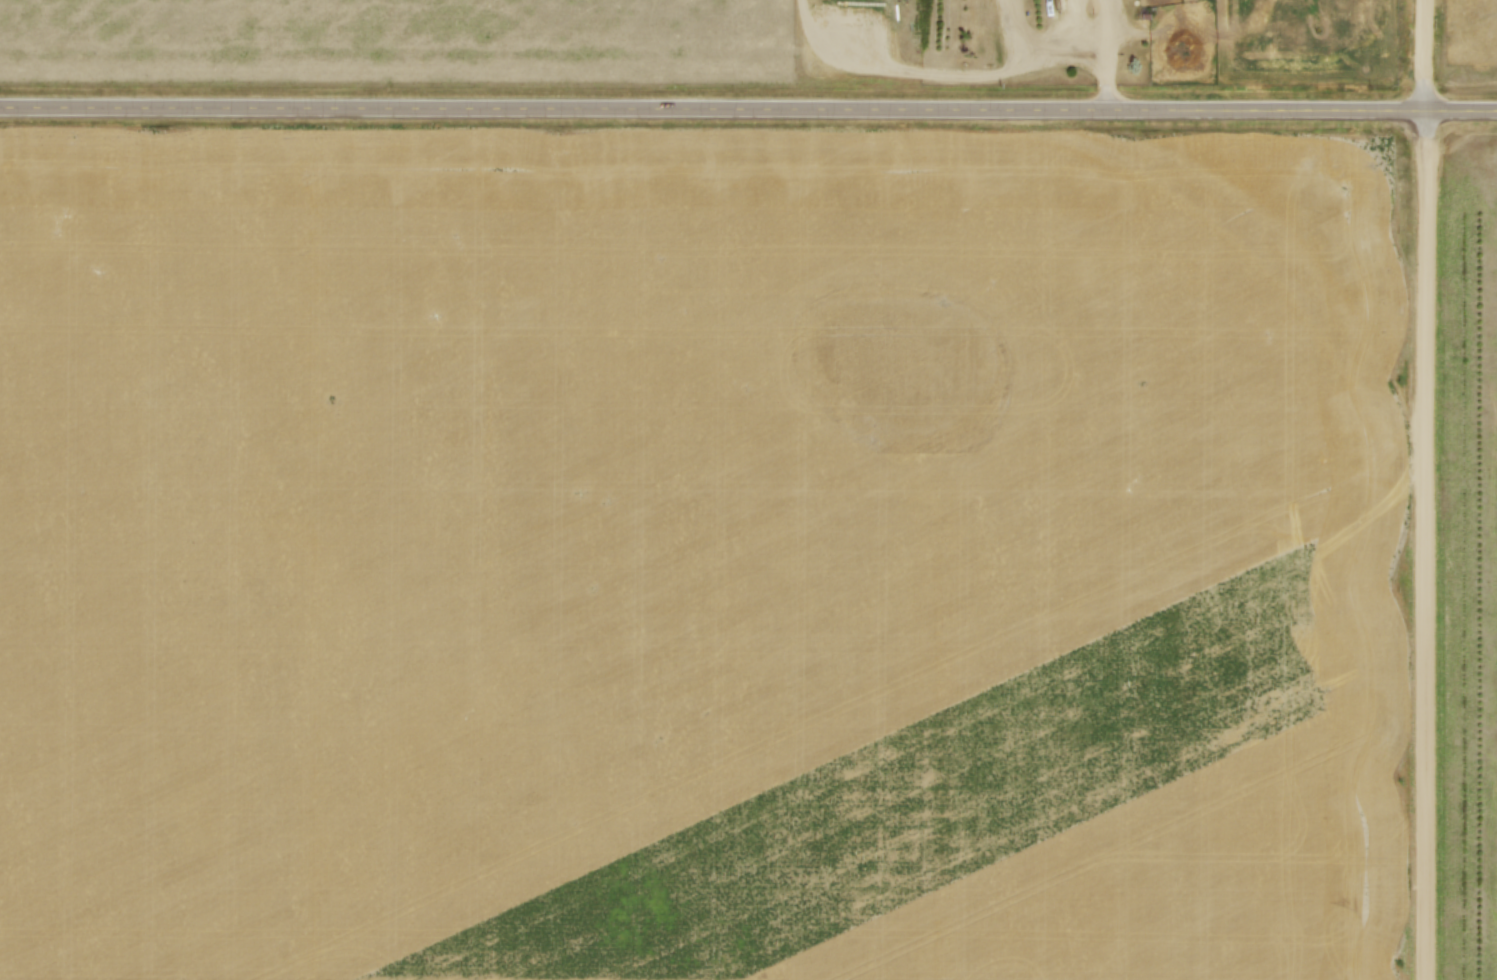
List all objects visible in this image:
building: (1064, 14)
road: (1107, 54)
road: (1424, 54)
road: (748, 107)
road: (1425, 543)
crop: (697, 557)

